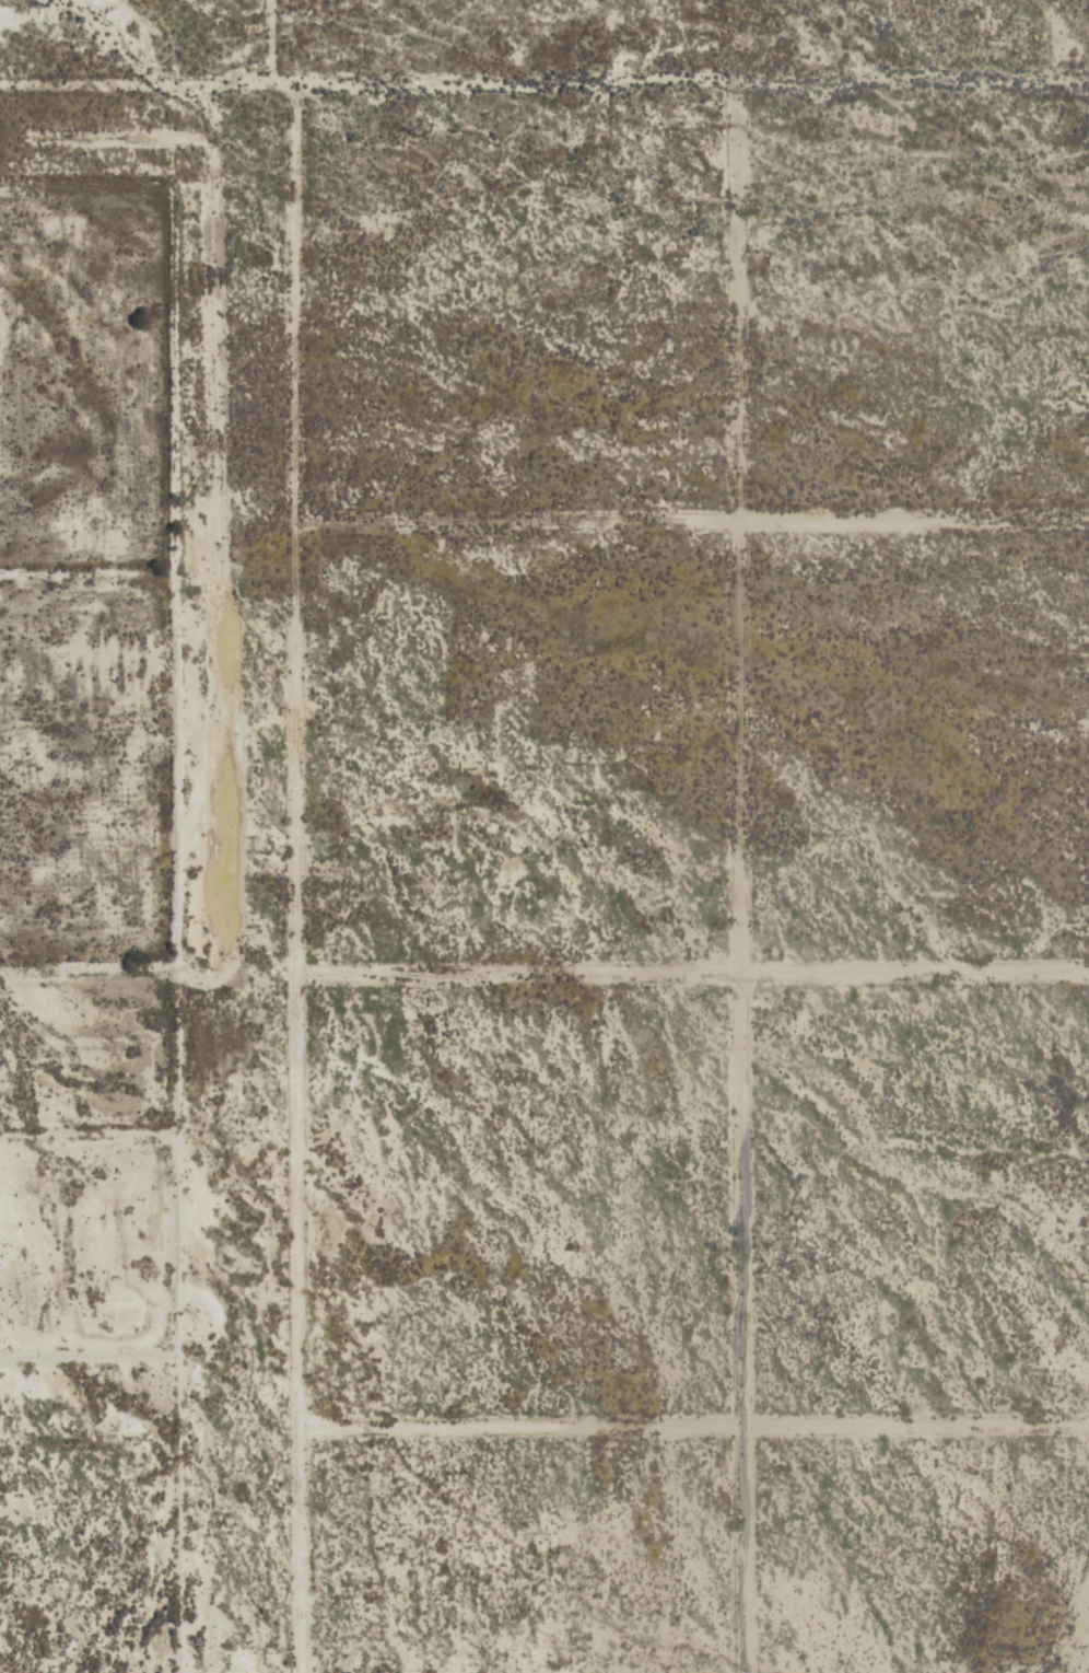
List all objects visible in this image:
railway: (179, 1401)
railway: (173, 1410)

